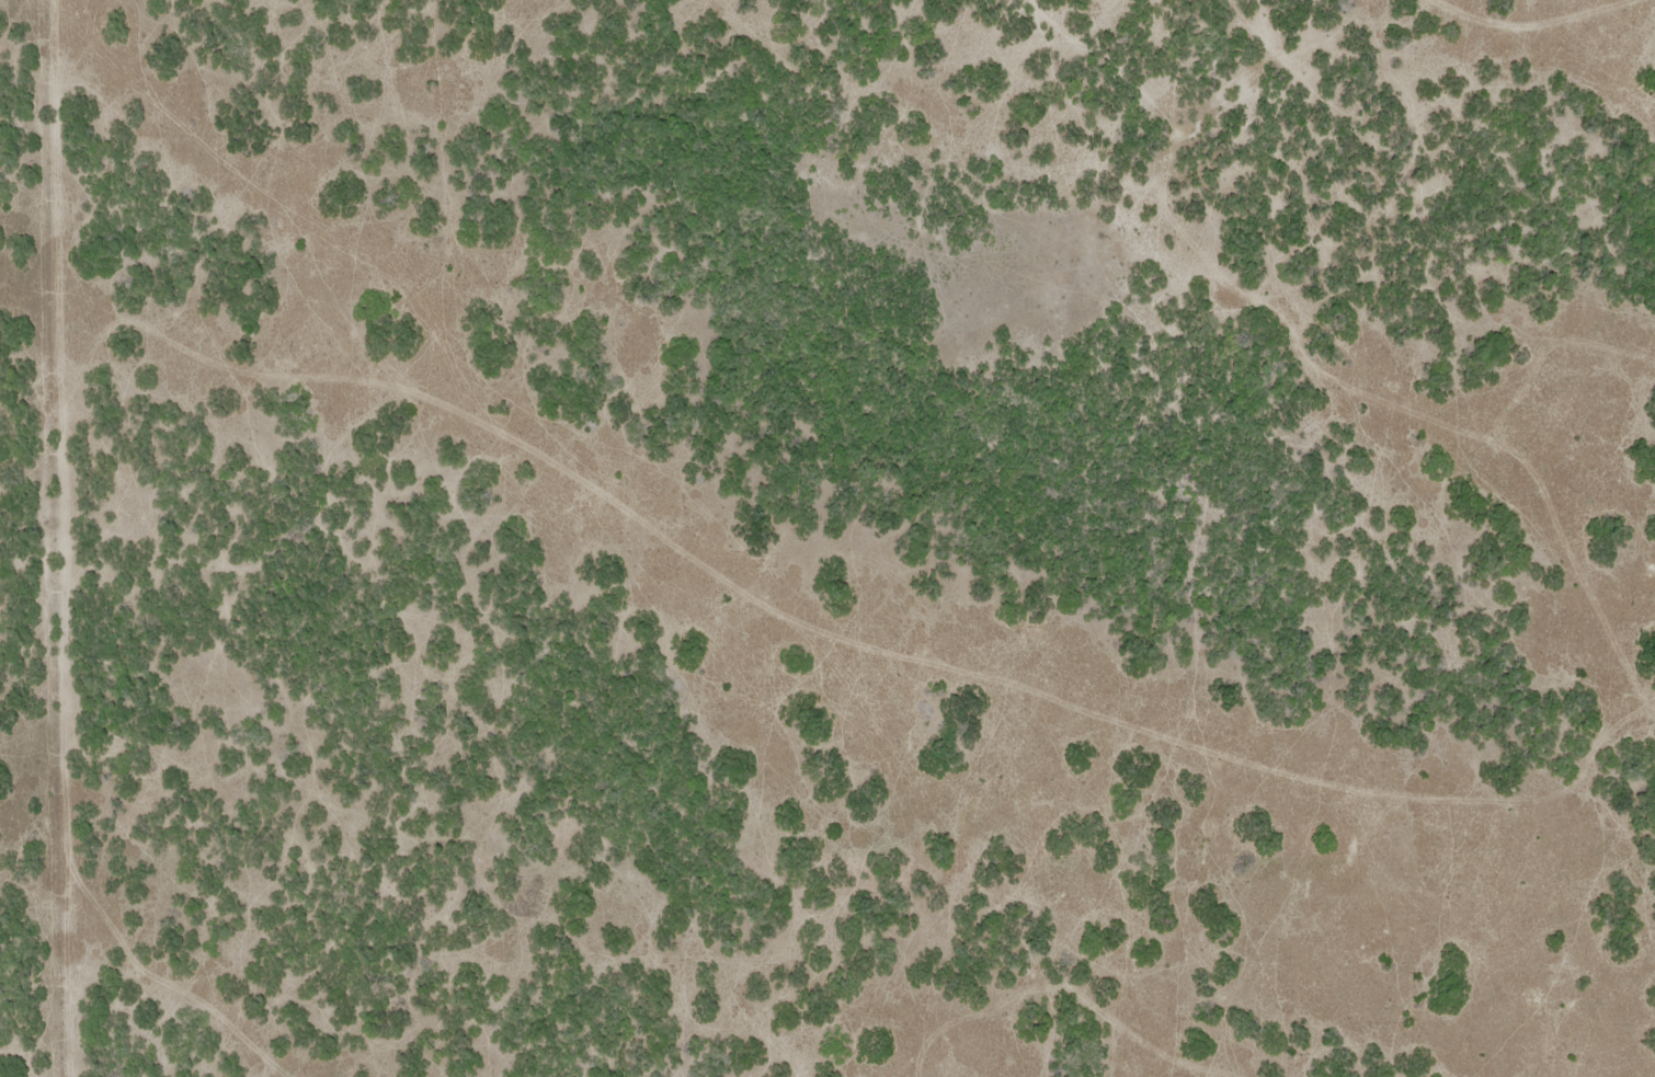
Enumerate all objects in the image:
road: (708, 576)

